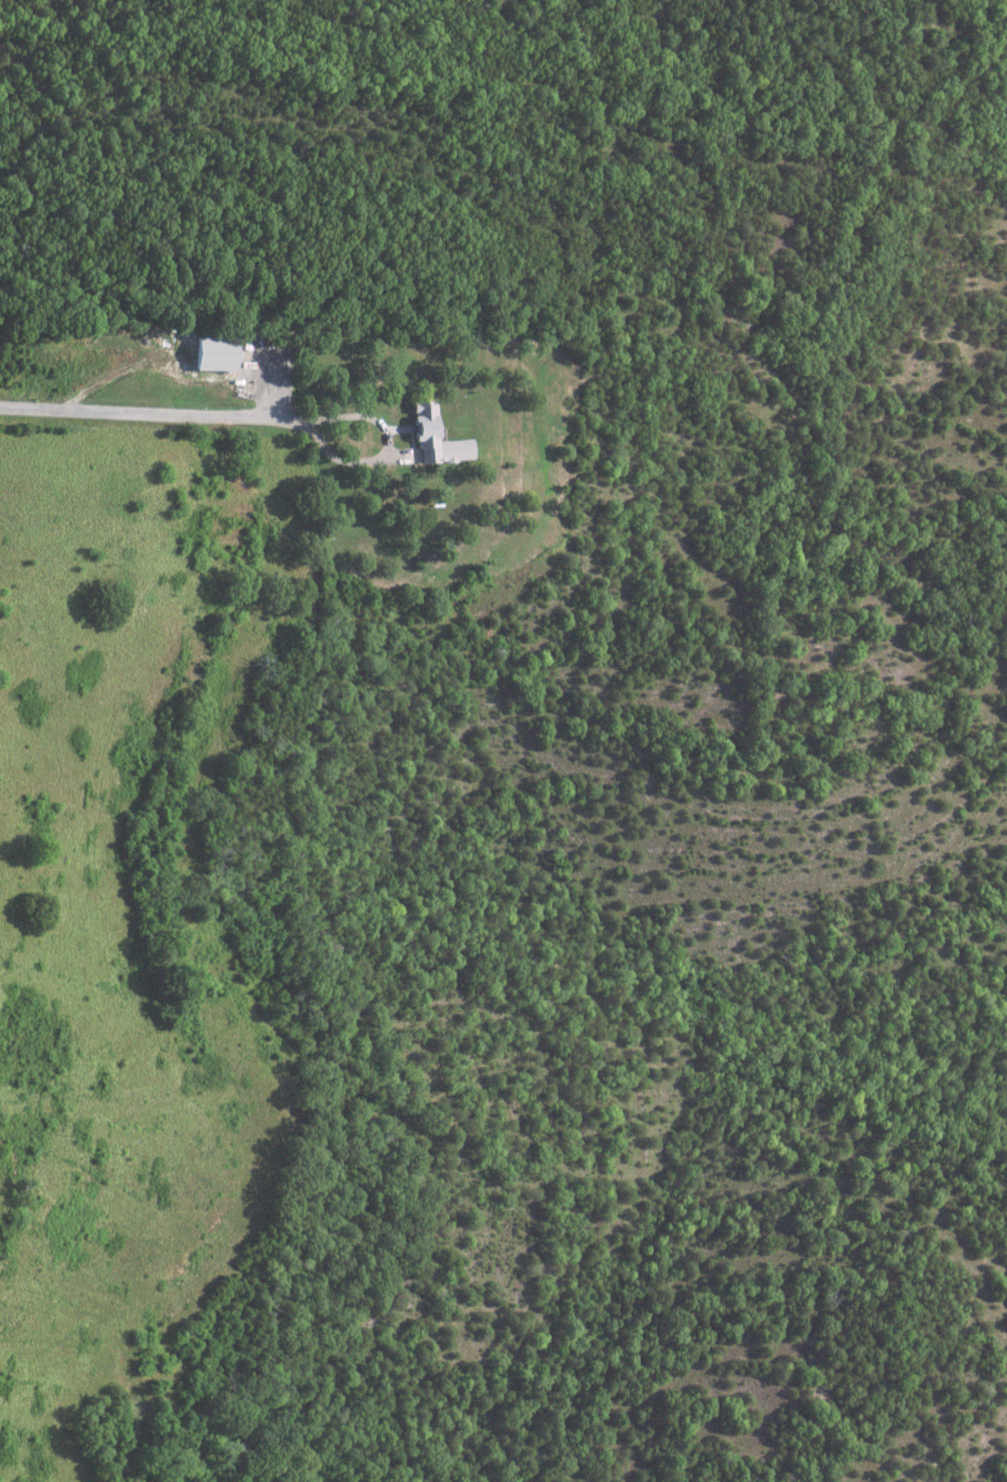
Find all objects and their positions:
building: (215, 354)
road: (151, 419)
building: (437, 439)
road: (381, 449)

